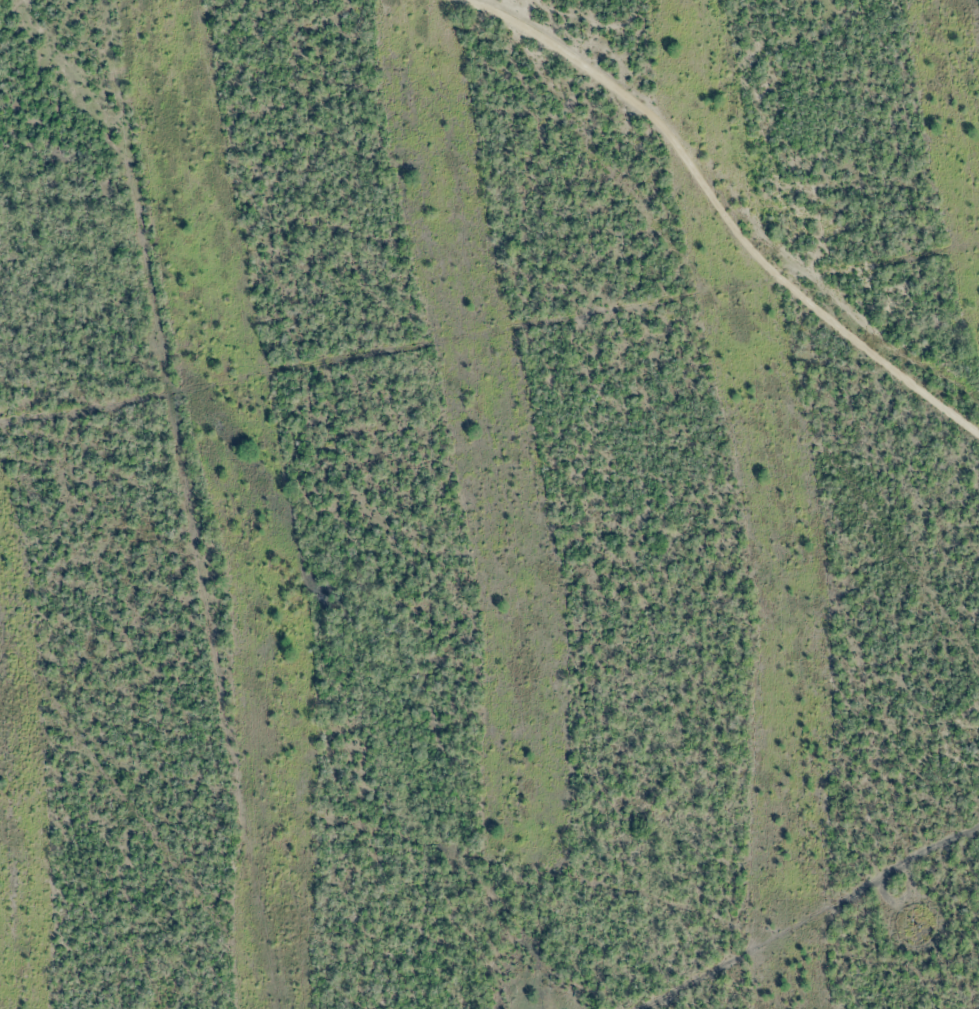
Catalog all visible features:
road: (716, 208)

